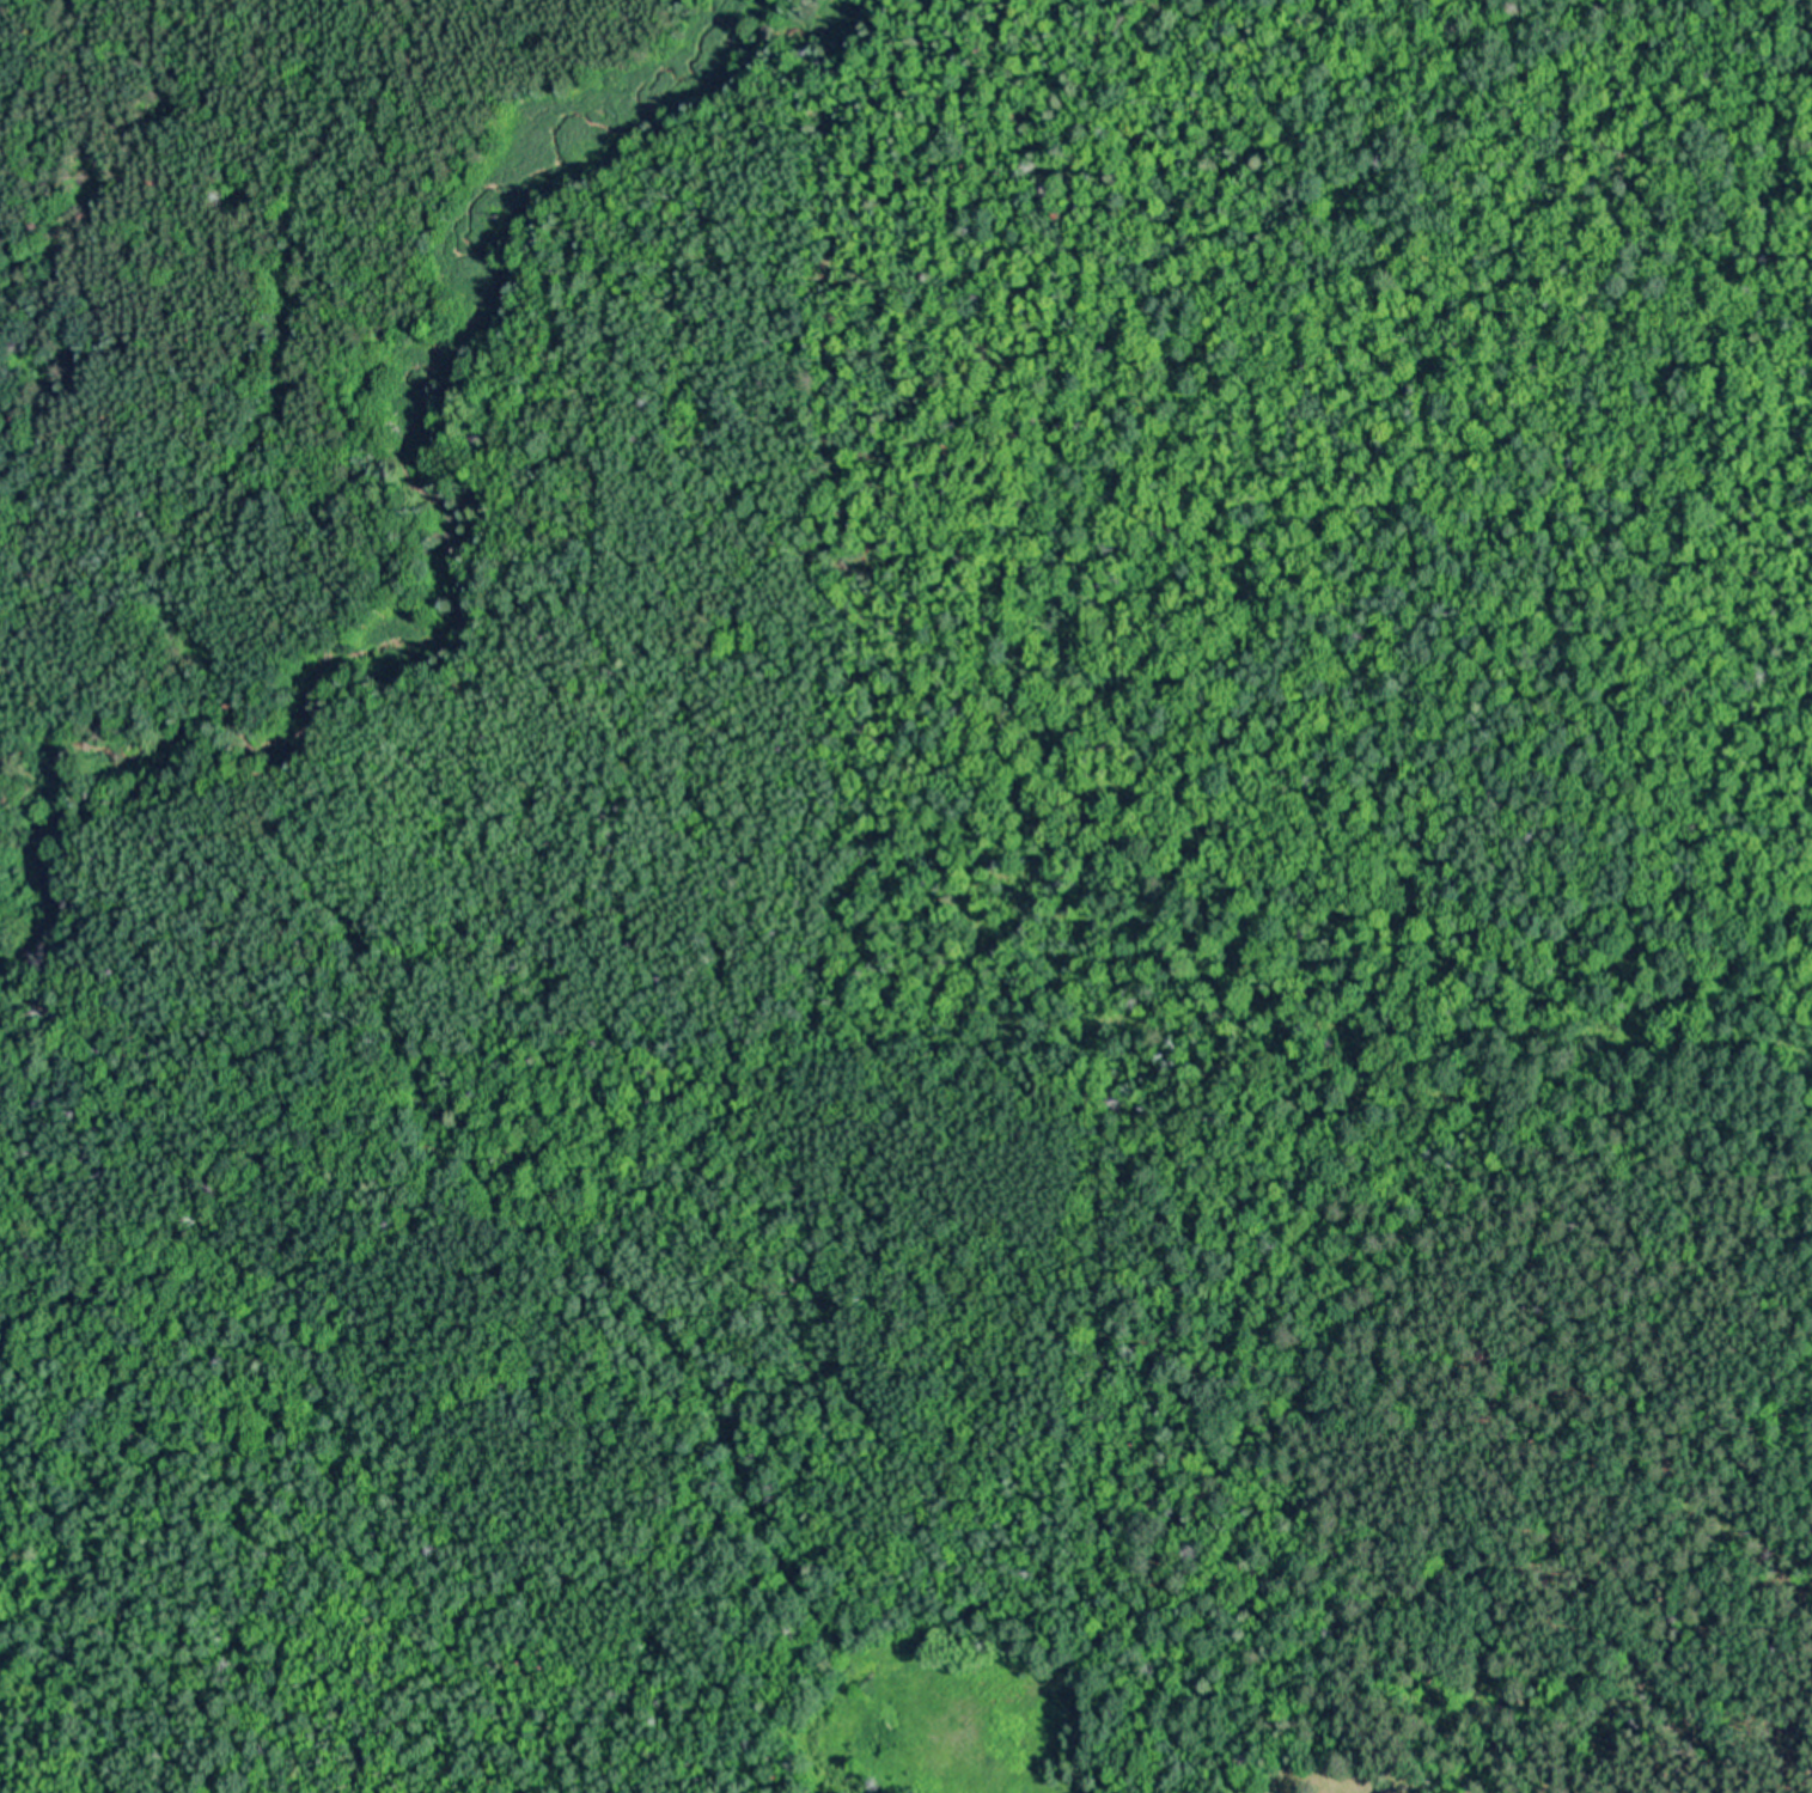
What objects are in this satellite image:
road: (1005, 1783)

